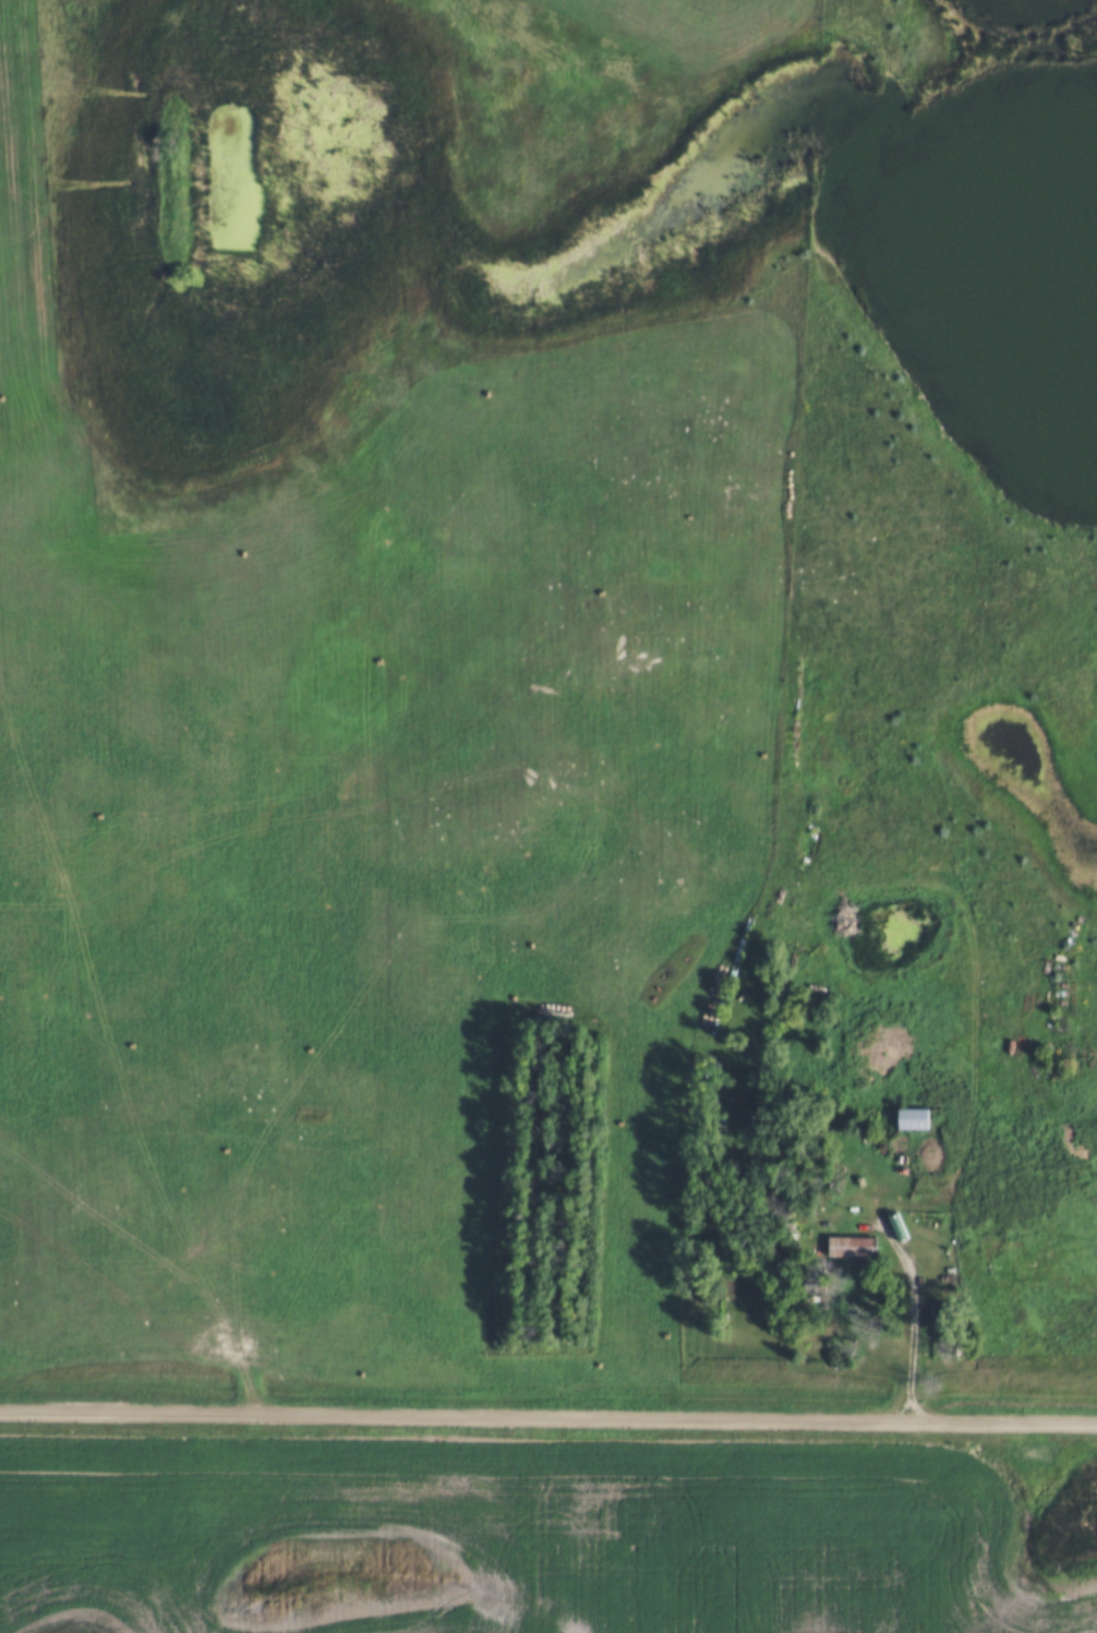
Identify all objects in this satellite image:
building: (908, 1116)
road: (911, 1307)
road: (548, 1418)

